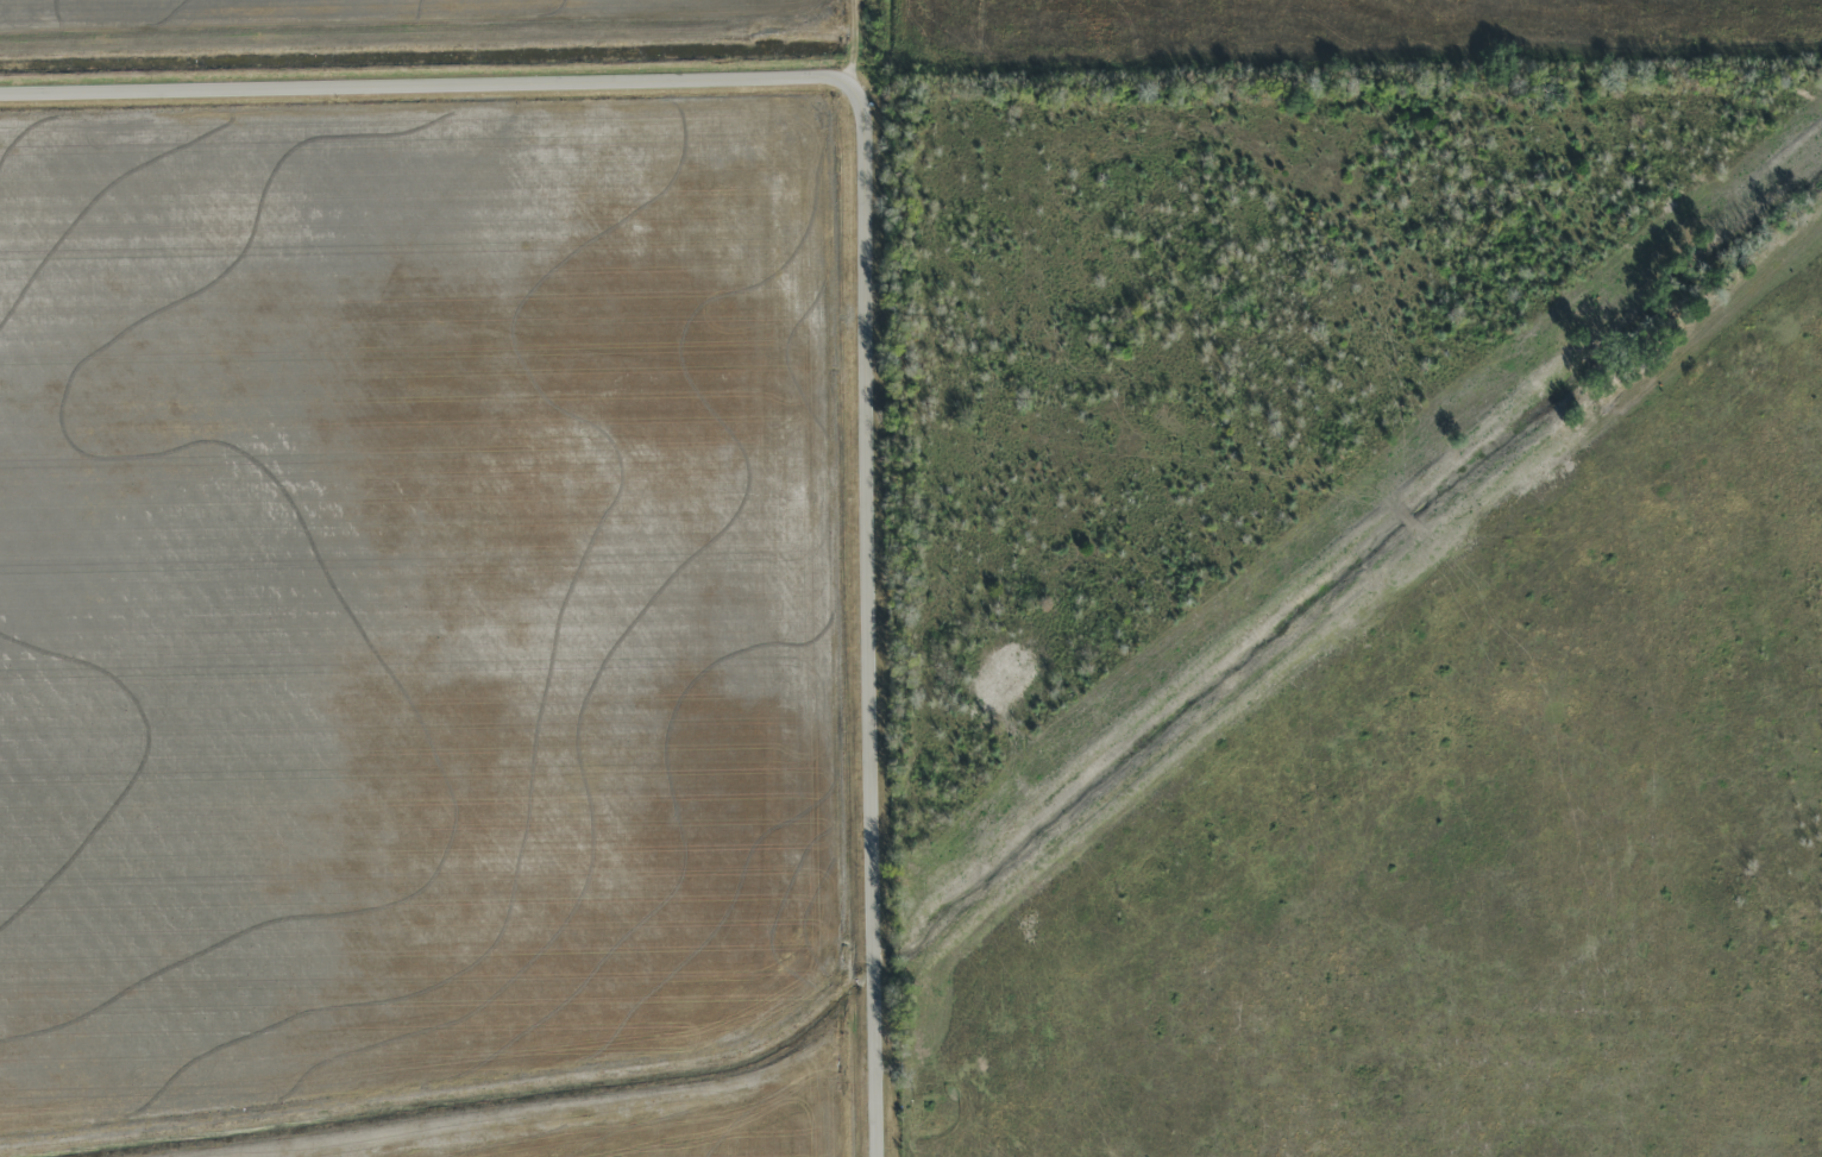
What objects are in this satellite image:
road: (861, 193)

